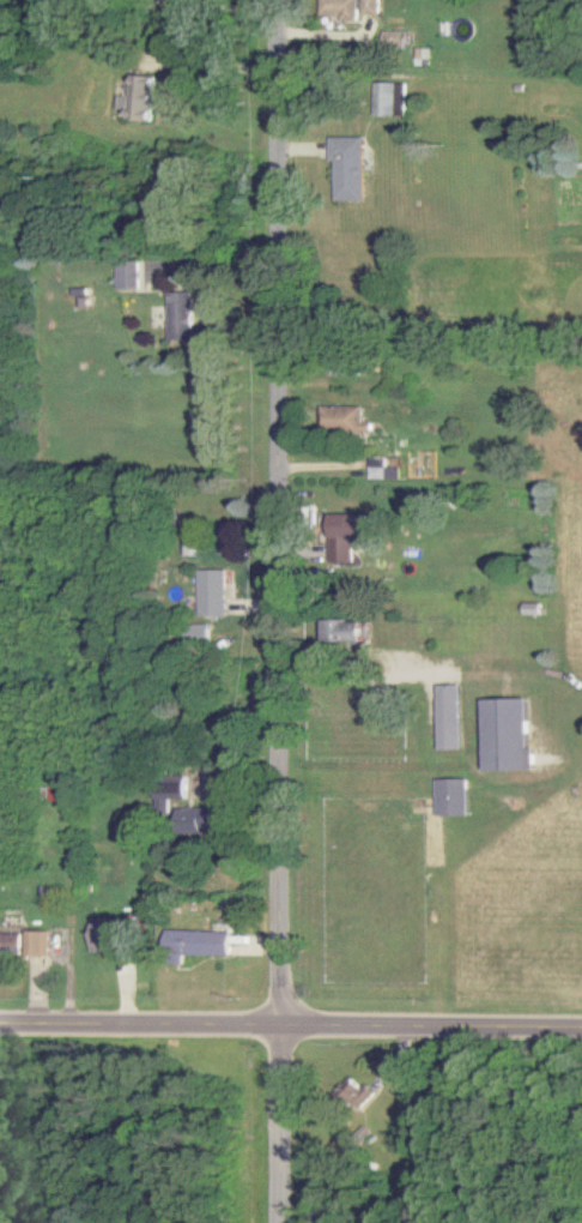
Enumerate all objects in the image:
building: (353, 8)
building: (396, 38)
building: (140, 98)
building: (392, 98)
building: (351, 168)
building: (128, 275)
building: (181, 319)
building: (344, 420)
building: (380, 470)
building: (347, 536)
building: (213, 591)
building: (532, 608)
road: (280, 611)
building: (346, 632)
road: (363, 674)
building: (449, 717)
building: (508, 736)
building: (171, 793)
building: (451, 797)
building: (196, 821)
building: (108, 932)
building: (11, 944)
building: (40, 944)
building: (198, 945)
road: (291, 1025)
building: (353, 1094)
building: (359, 1135)

